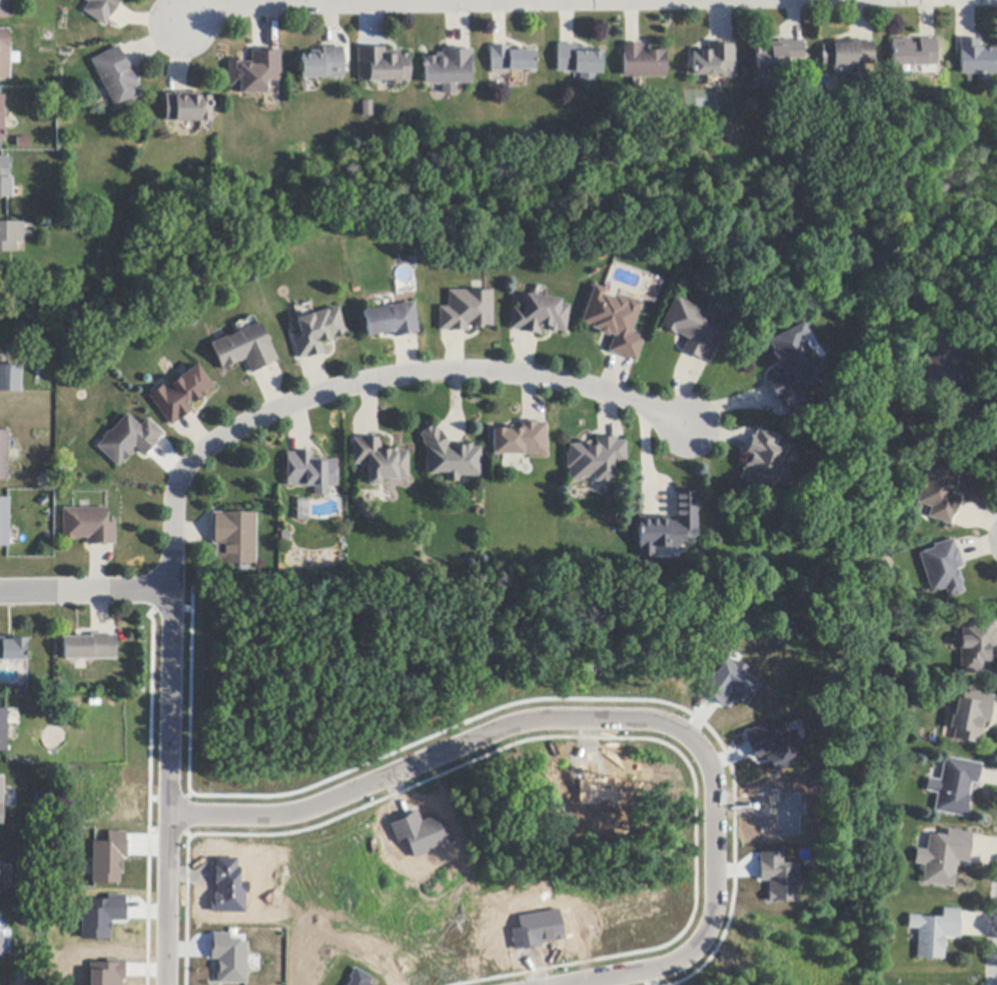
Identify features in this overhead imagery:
road: (319, 2)
building: (6, 9)
building: (101, 9)
building: (913, 53)
building: (776, 54)
building: (6, 55)
building: (849, 57)
building: (976, 59)
building: (510, 60)
building: (577, 60)
building: (714, 61)
building: (642, 62)
building: (322, 64)
building: (382, 66)
building: (448, 69)
building: (255, 72)
building: (116, 77)
building: (187, 108)
building: (365, 109)
building: (1, 117)
building: (5, 178)
building: (10, 236)
building: (465, 311)
building: (539, 316)
building: (390, 321)
building: (614, 322)
building: (694, 328)
building: (316, 332)
building: (245, 349)
building: (793, 366)
building: (940, 367)
building: (10, 378)
road: (363, 380)
building: (181, 394)
road: (981, 430)
building: (128, 440)
building: (520, 440)
building: (4, 455)
building: (450, 456)
building: (595, 459)
building: (380, 461)
building: (762, 461)
building: (310, 472)
building: (940, 494)
building: (852, 497)
building: (301, 503)
building: (4, 521)
building: (89, 526)
building: (668, 527)
park: (784, 530)
building: (234, 537)
park: (993, 540)
building: (943, 568)
road: (81, 592)
building: (977, 646)
building: (90, 647)
building: (12, 649)
building: (728, 682)
road: (611, 701)
building: (971, 716)
building: (3, 730)
building: (772, 743)
road: (159, 787)
building: (954, 787)
building: (1, 800)
building: (419, 832)
building: (943, 857)
building: (108, 858)
building: (777, 877)
building: (101, 915)
building: (934, 933)
building: (1, 944)
building: (229, 957)
building: (106, 972)
road: (996, 973)
building: (357, 978)

